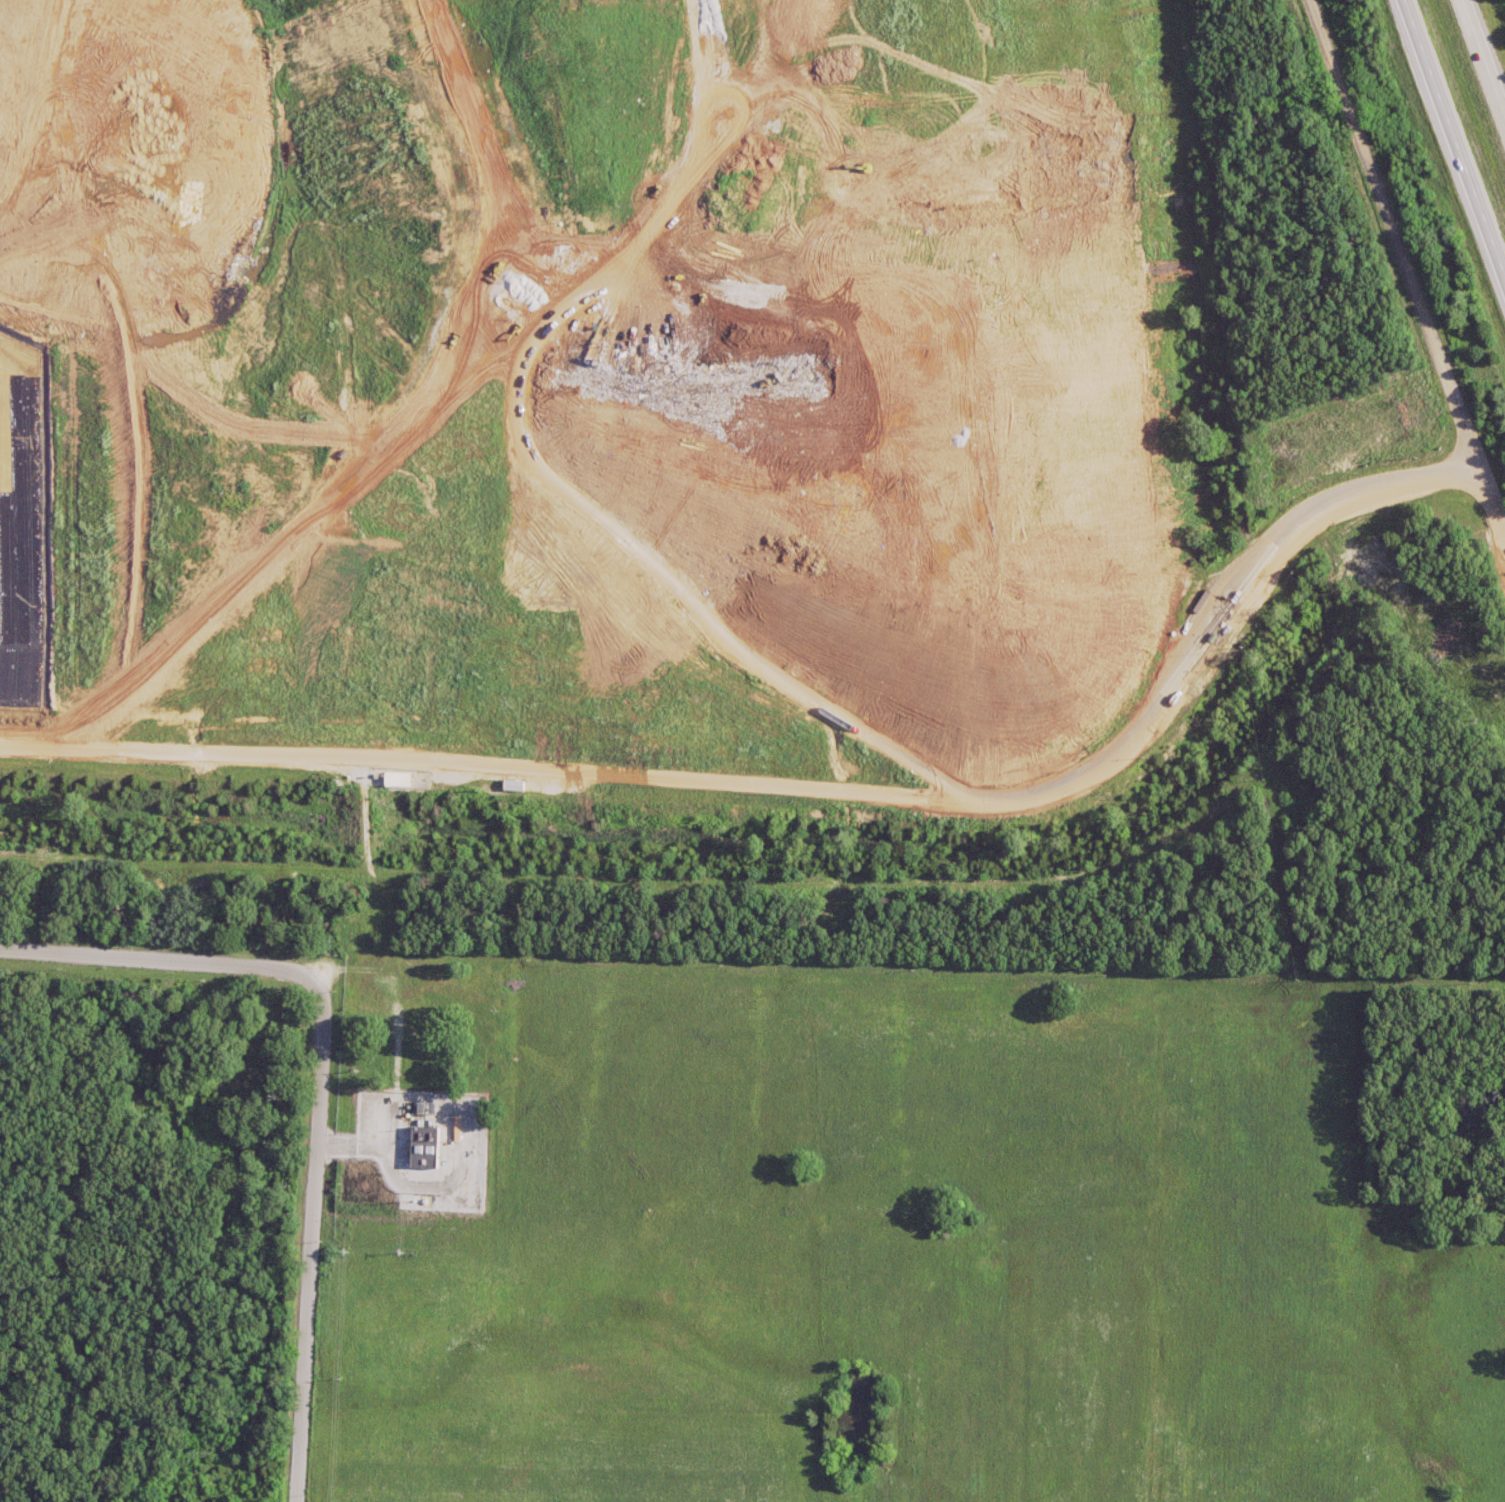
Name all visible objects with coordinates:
road: (1487, 49)
road: (1453, 141)
road: (1405, 282)
building: (409, 779)
road: (804, 780)
building: (524, 785)
road: (318, 1078)
building: (431, 1158)

